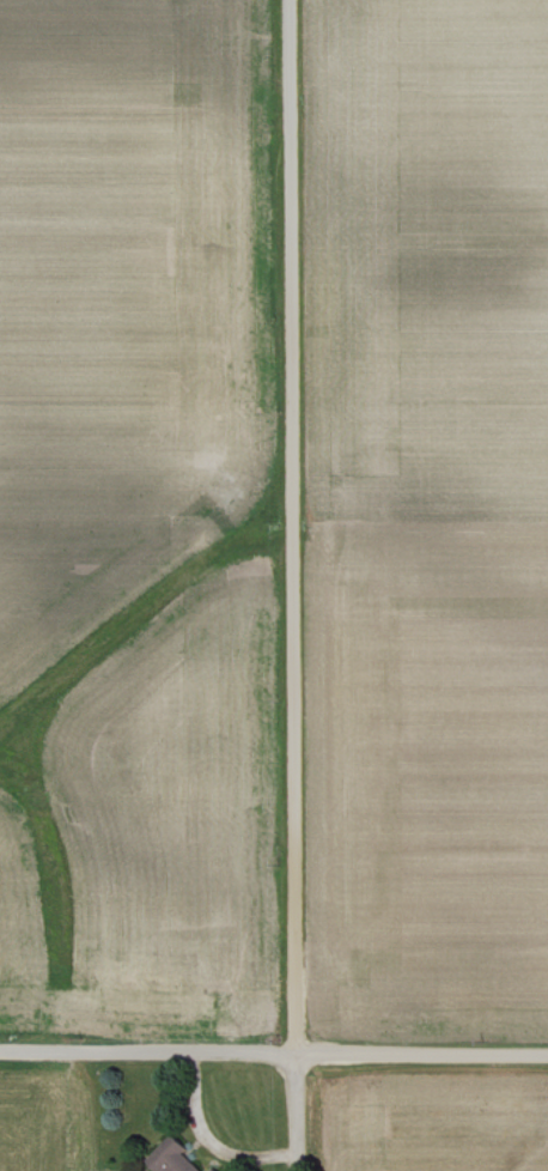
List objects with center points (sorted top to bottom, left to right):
road: (293, 584)
road: (273, 1054)
building: (173, 1158)
building: (215, 1170)

